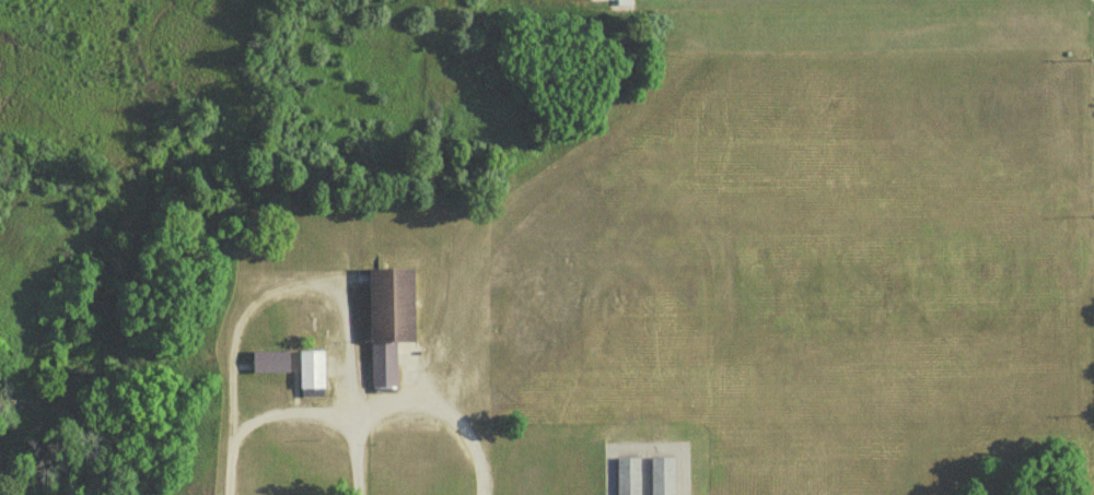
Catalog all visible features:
road: (282, 286)
building: (387, 320)
building: (268, 358)
building: (309, 367)
road: (301, 415)
road: (442, 420)
road: (539, 453)
building: (626, 475)
building: (661, 475)
building: (539, 485)

